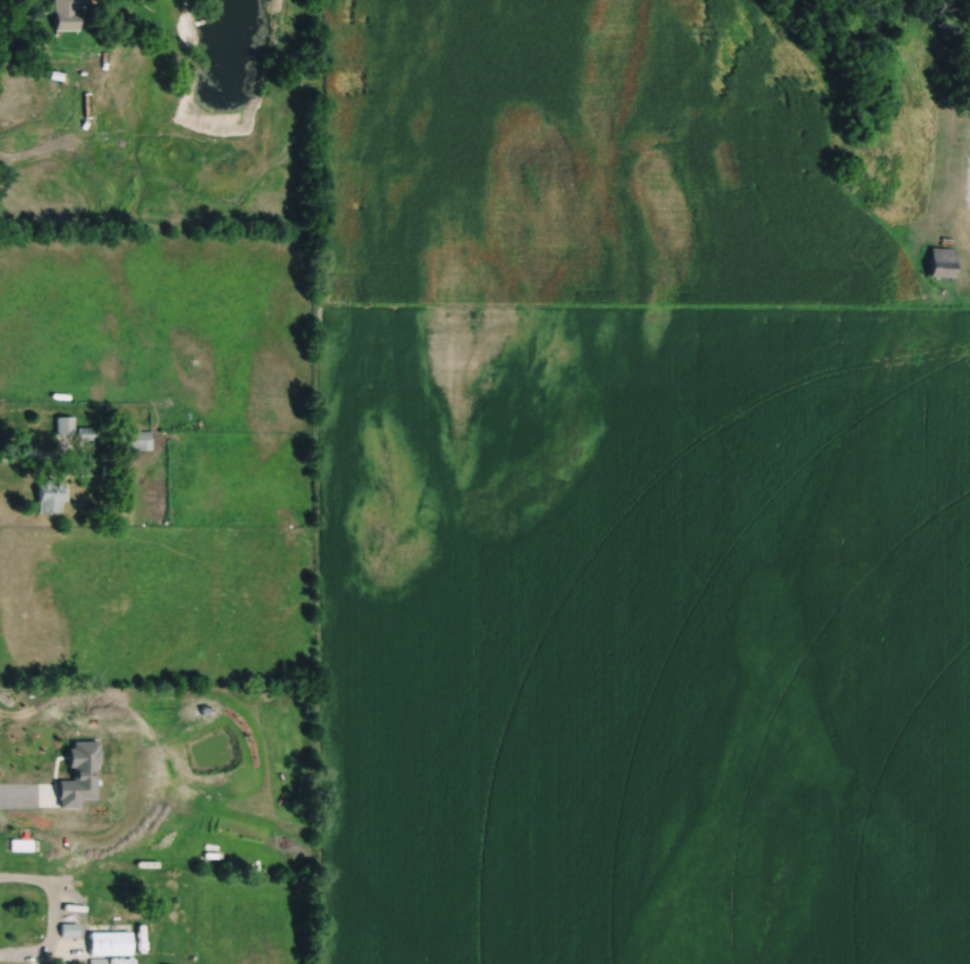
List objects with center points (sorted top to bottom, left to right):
building: (65, 12)
building: (941, 260)
building: (63, 423)
building: (86, 432)
building: (132, 437)
road: (41, 455)
building: (83, 469)
building: (49, 495)
crop: (628, 504)
building: (79, 772)
building: (21, 843)
road: (53, 913)
building: (69, 928)
building: (110, 941)
building: (98, 960)
building: (67, 962)

